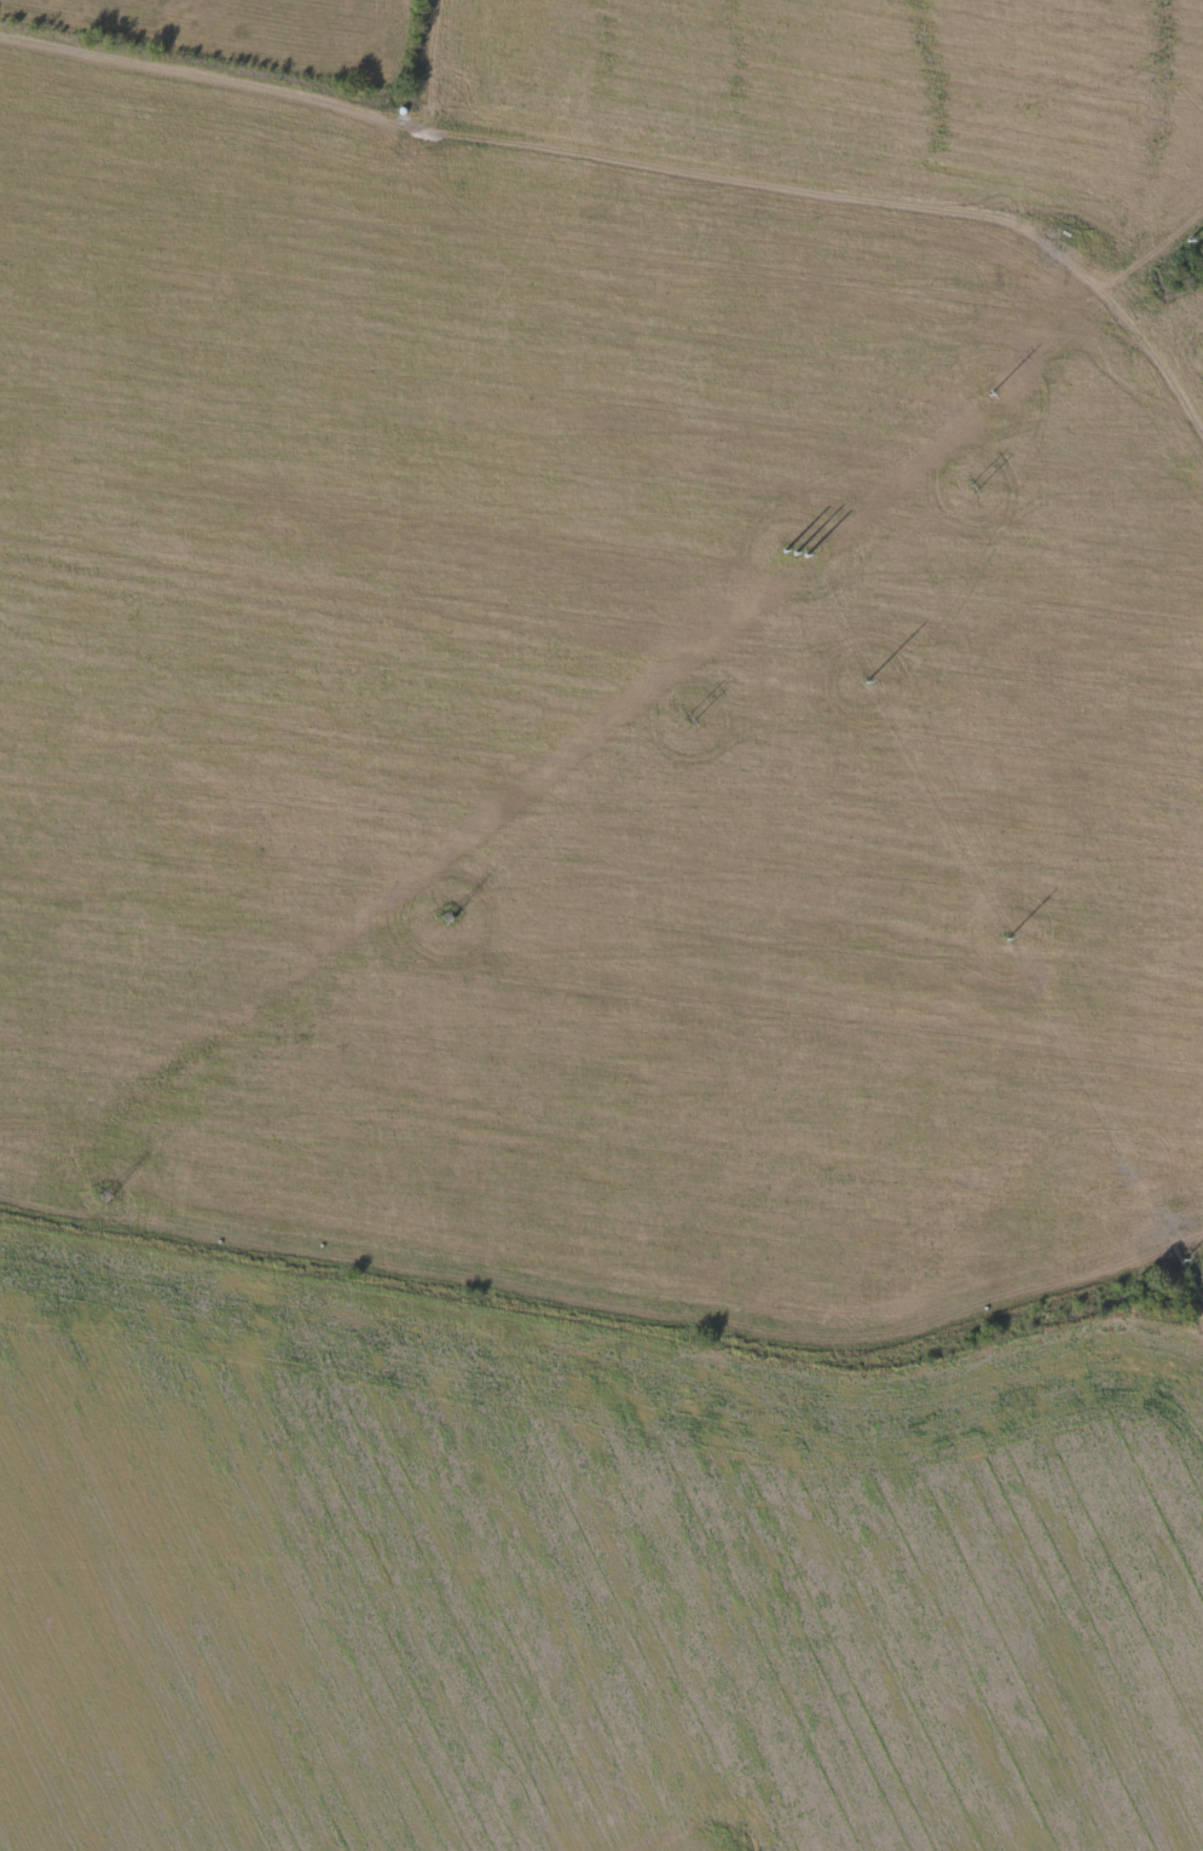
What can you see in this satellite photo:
power tower: (436, 911)

